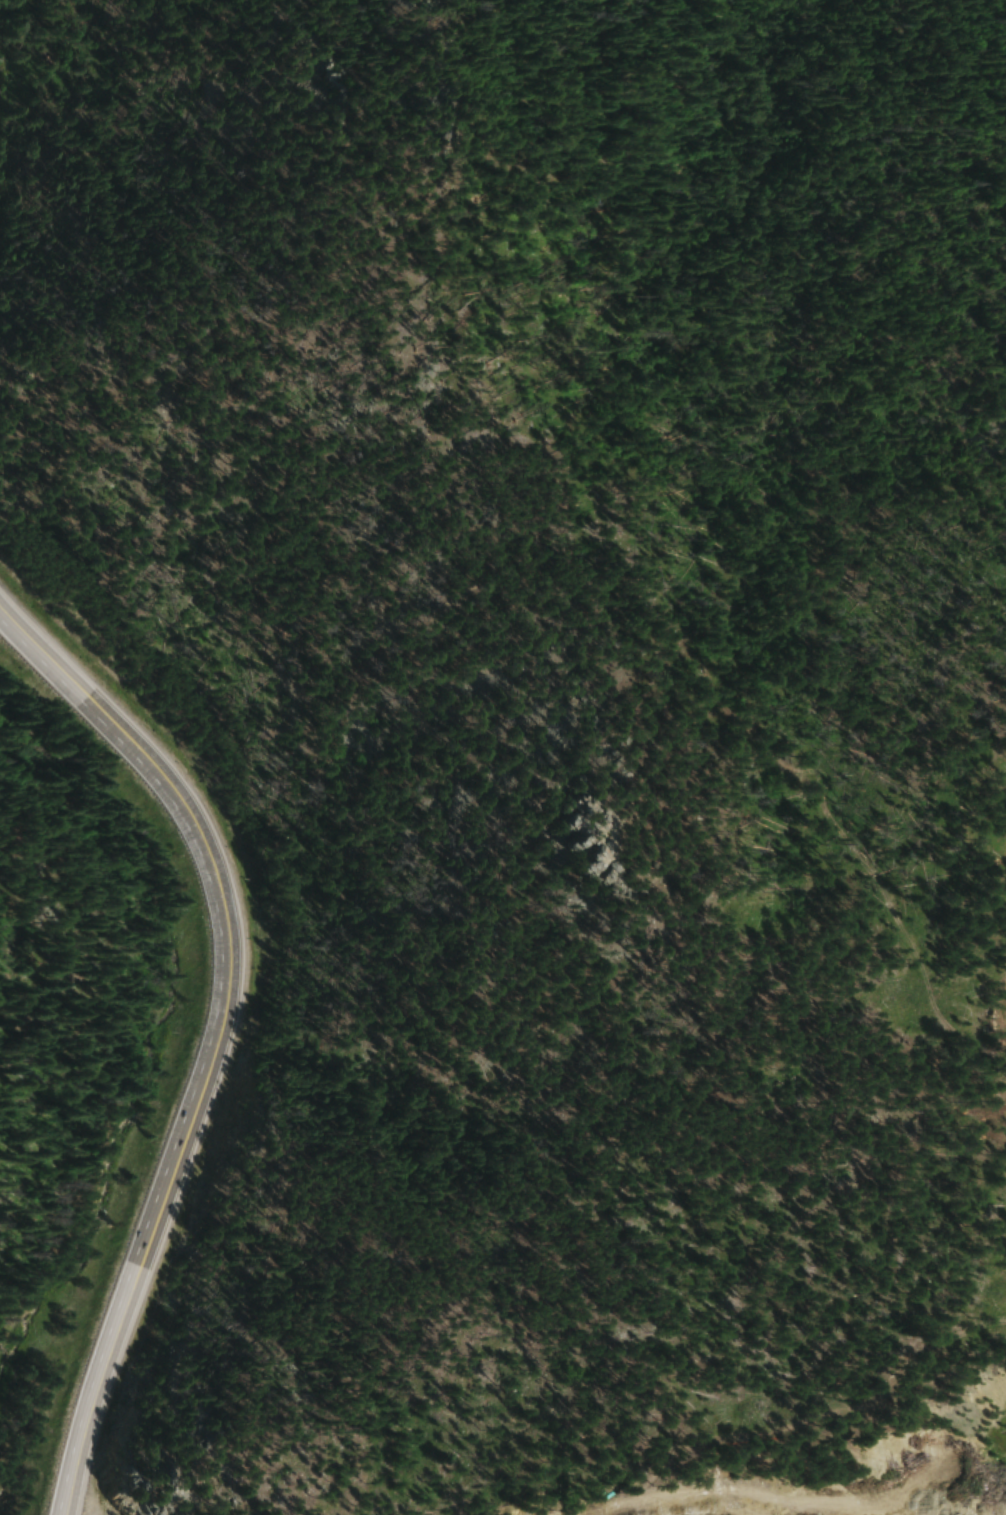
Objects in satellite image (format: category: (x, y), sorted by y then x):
road: (224, 1024)
road: (711, 1497)

